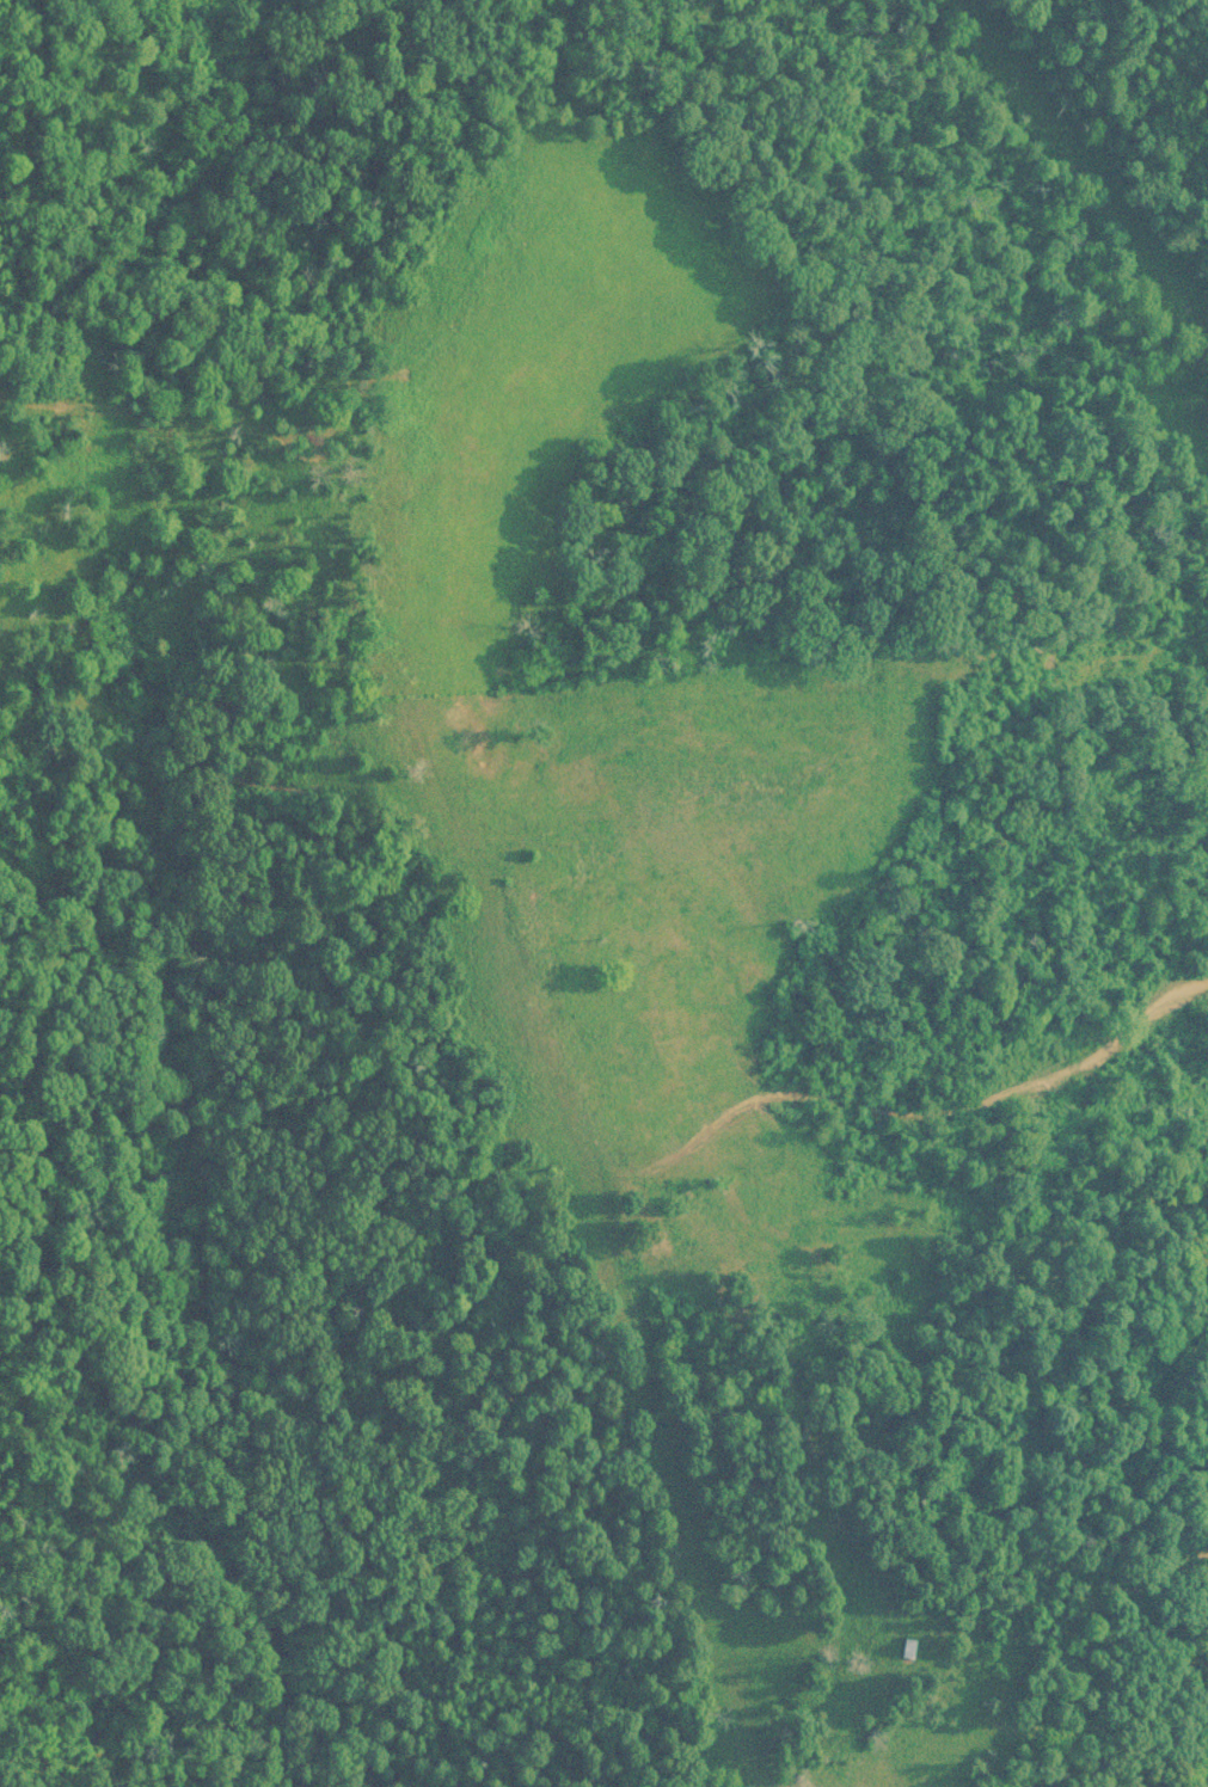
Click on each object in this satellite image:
building: (905, 1645)

